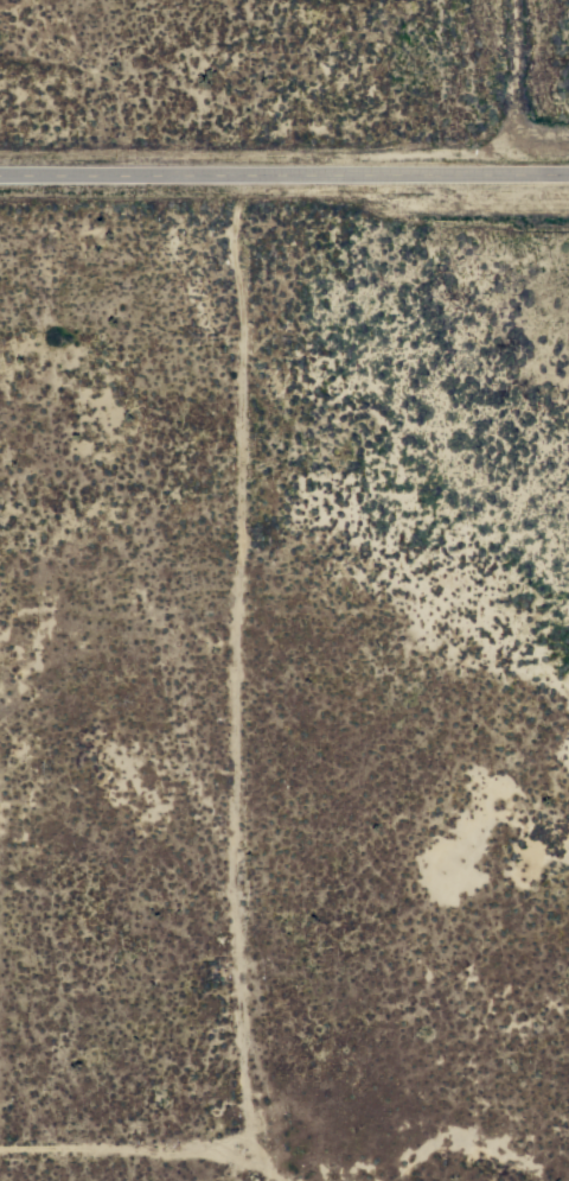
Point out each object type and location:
road: (284, 174)

